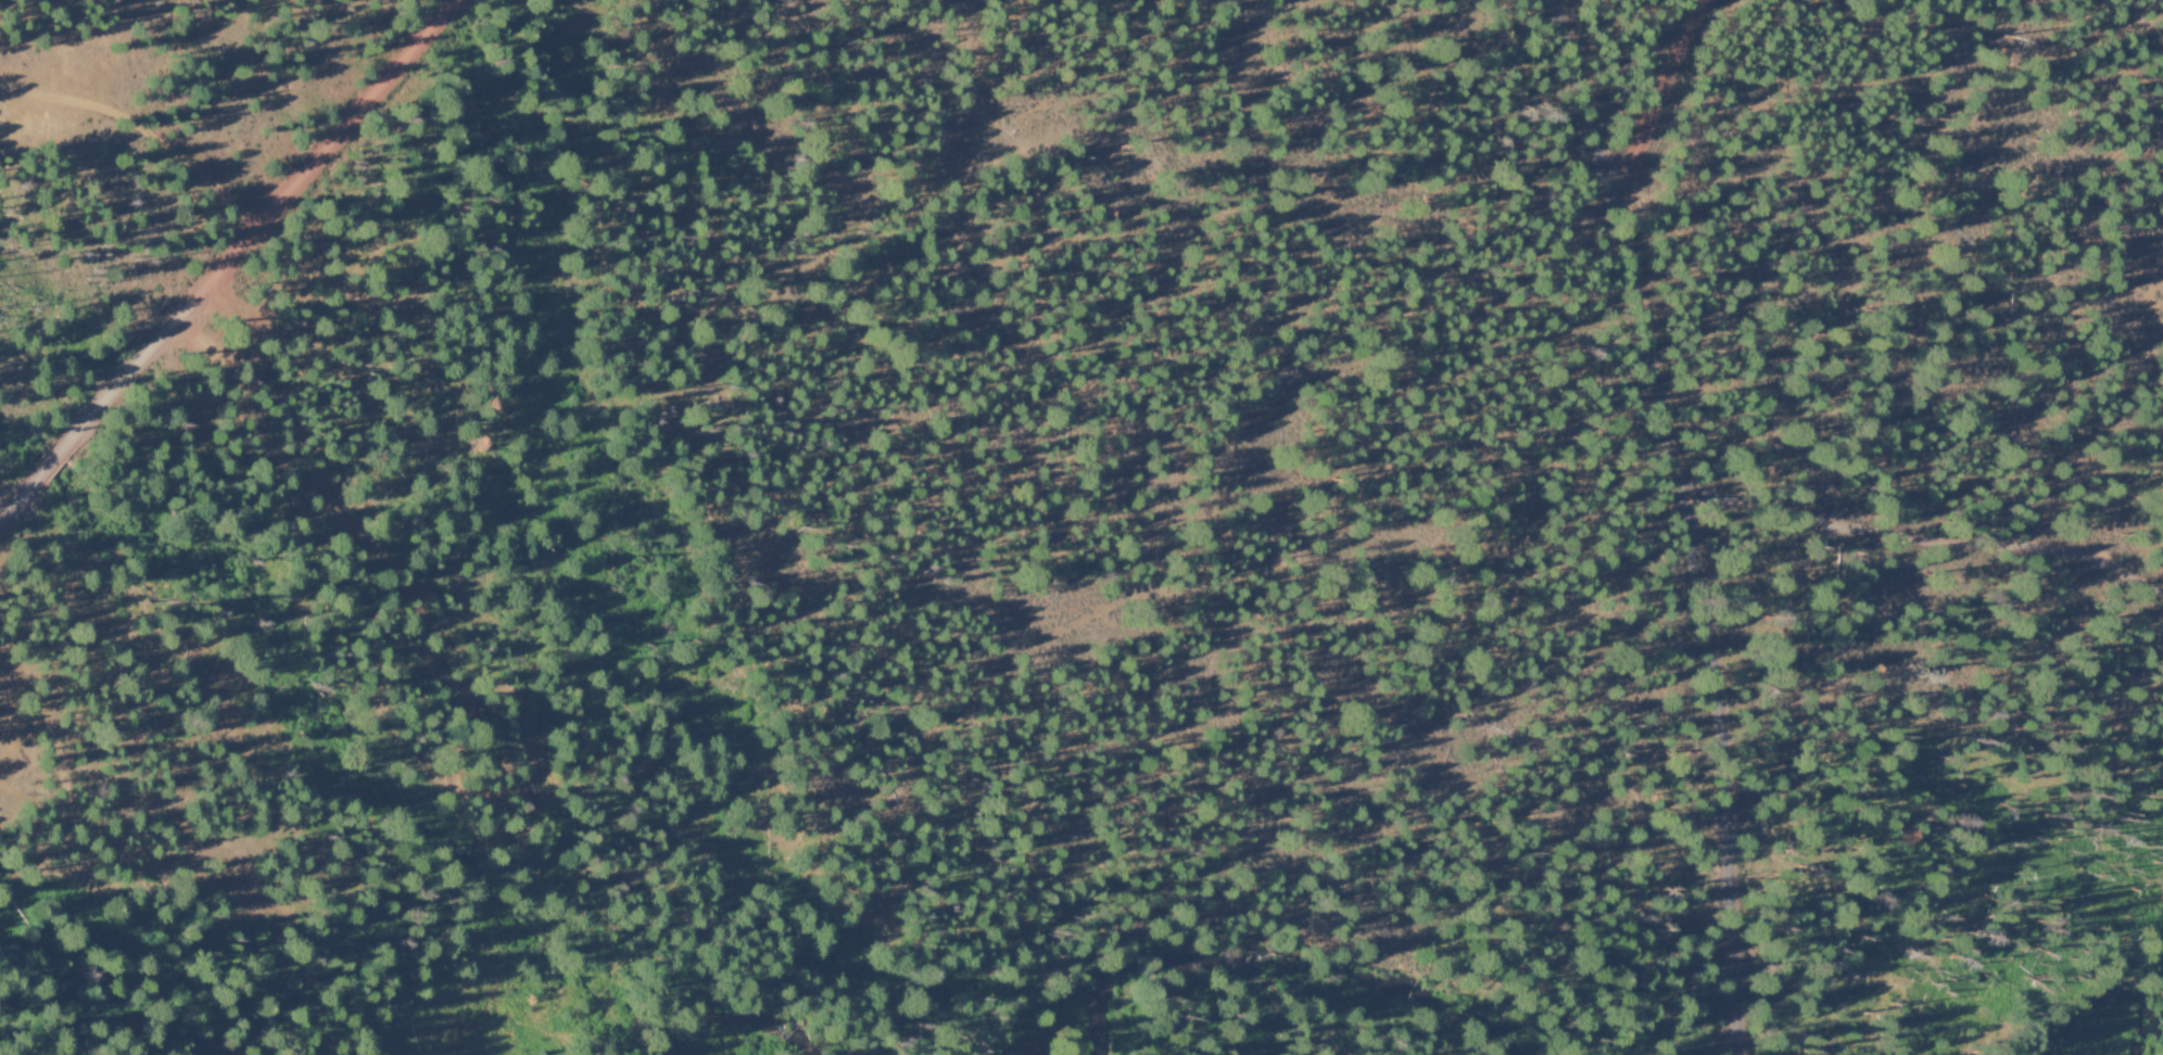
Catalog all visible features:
road: (1681, 92)
road: (143, 126)
road: (1629, 241)
road: (228, 257)
road: (1933, 543)
road: (431, 654)
road: (1741, 771)

